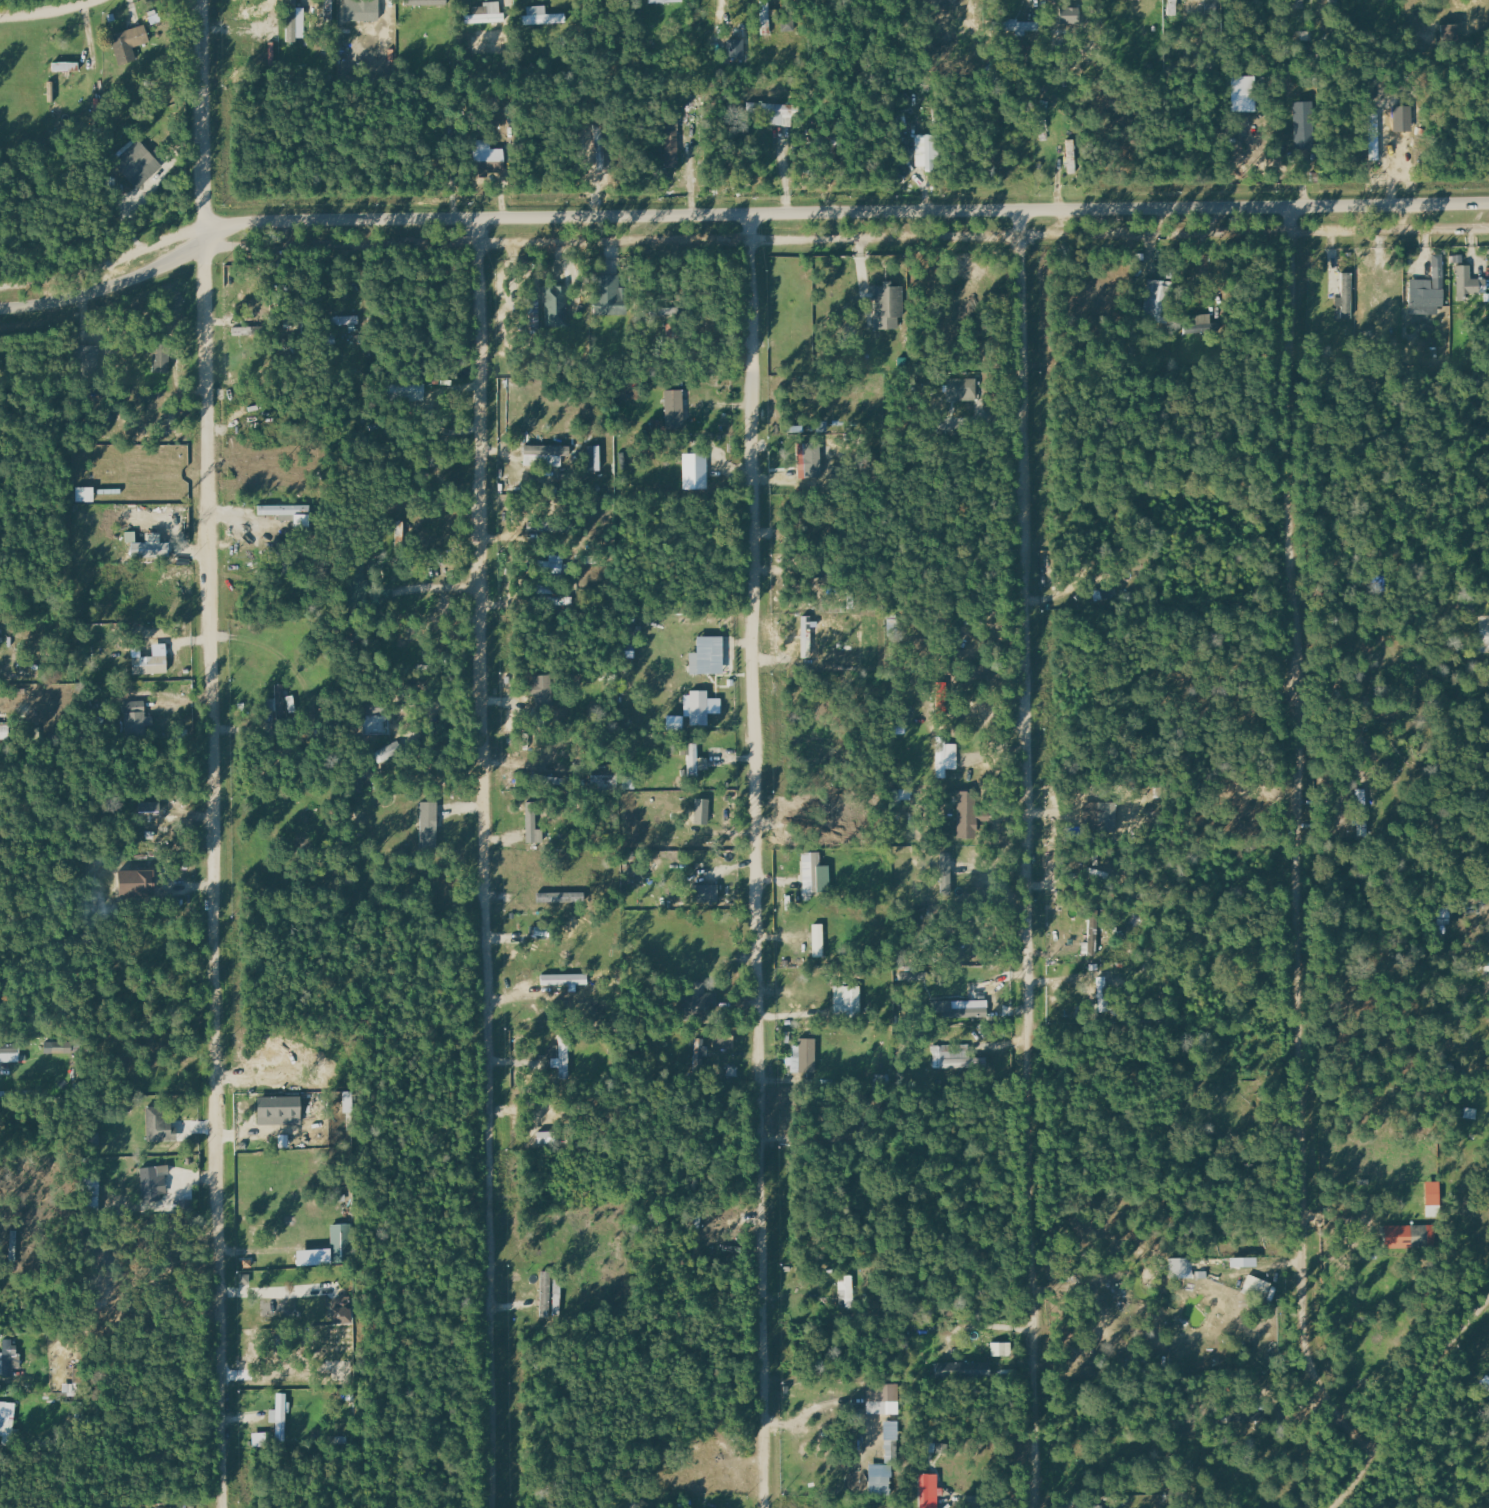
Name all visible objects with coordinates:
building: (665, 1)
building: (426, 2)
building: (1297, 4)
road: (40, 7)
building: (1173, 7)
building: (361, 12)
building: (486, 14)
building: (541, 17)
building: (766, 18)
building: (292, 21)
building: (788, 22)
building: (1022, 27)
building: (1446, 34)
building: (128, 41)
building: (736, 48)
building: (65, 66)
building: (1242, 85)
building: (774, 112)
building: (1302, 126)
building: (672, 141)
building: (926, 151)
building: (488, 152)
building: (1073, 156)
building: (139, 161)
road: (739, 210)
road: (740, 240)
building: (1469, 284)
building: (1426, 296)
building: (1346, 298)
building: (1161, 300)
building: (611, 304)
building: (556, 306)
building: (887, 306)
building: (161, 359)
building: (86, 361)
building: (961, 389)
building: (406, 392)
building: (674, 409)
building: (545, 455)
building: (594, 458)
building: (822, 460)
building: (699, 468)
building: (84, 495)
building: (289, 513)
building: (146, 548)
building: (544, 590)
building: (627, 651)
building: (710, 655)
building: (148, 664)
building: (542, 689)
building: (279, 703)
building: (701, 708)
building: (371, 712)
building: (135, 723)
building: (3, 732)
road: (215, 753)
building: (946, 757)
building: (693, 762)
building: (702, 811)
building: (1362, 812)
building: (966, 814)
building: (1107, 817)
building: (429, 825)
road: (1299, 844)
road: (758, 858)
road: (1030, 871)
building: (814, 873)
road: (487, 875)
building: (134, 880)
building: (705, 893)
building: (1444, 915)
building: (540, 931)
building: (1092, 936)
building: (818, 938)
building: (1484, 966)
building: (564, 979)
building: (695, 995)
building: (847, 1000)
building: (61, 1046)
building: (9, 1053)
building: (807, 1055)
building: (560, 1057)
building: (954, 1057)
building: (278, 1110)
building: (158, 1124)
building: (548, 1137)
building: (94, 1140)
building: (154, 1181)
building: (1433, 1193)
building: (1410, 1236)
building: (331, 1249)
building: (1181, 1268)
building: (546, 1284)
building: (1258, 1287)
building: (848, 1291)
building: (1002, 1349)
building: (9, 1356)
building: (966, 1369)
building: (882, 1393)
road: (1410, 1399)
building: (280, 1416)
building: (7, 1419)
building: (881, 1481)
building: (929, 1490)
building: (1090, 1507)

